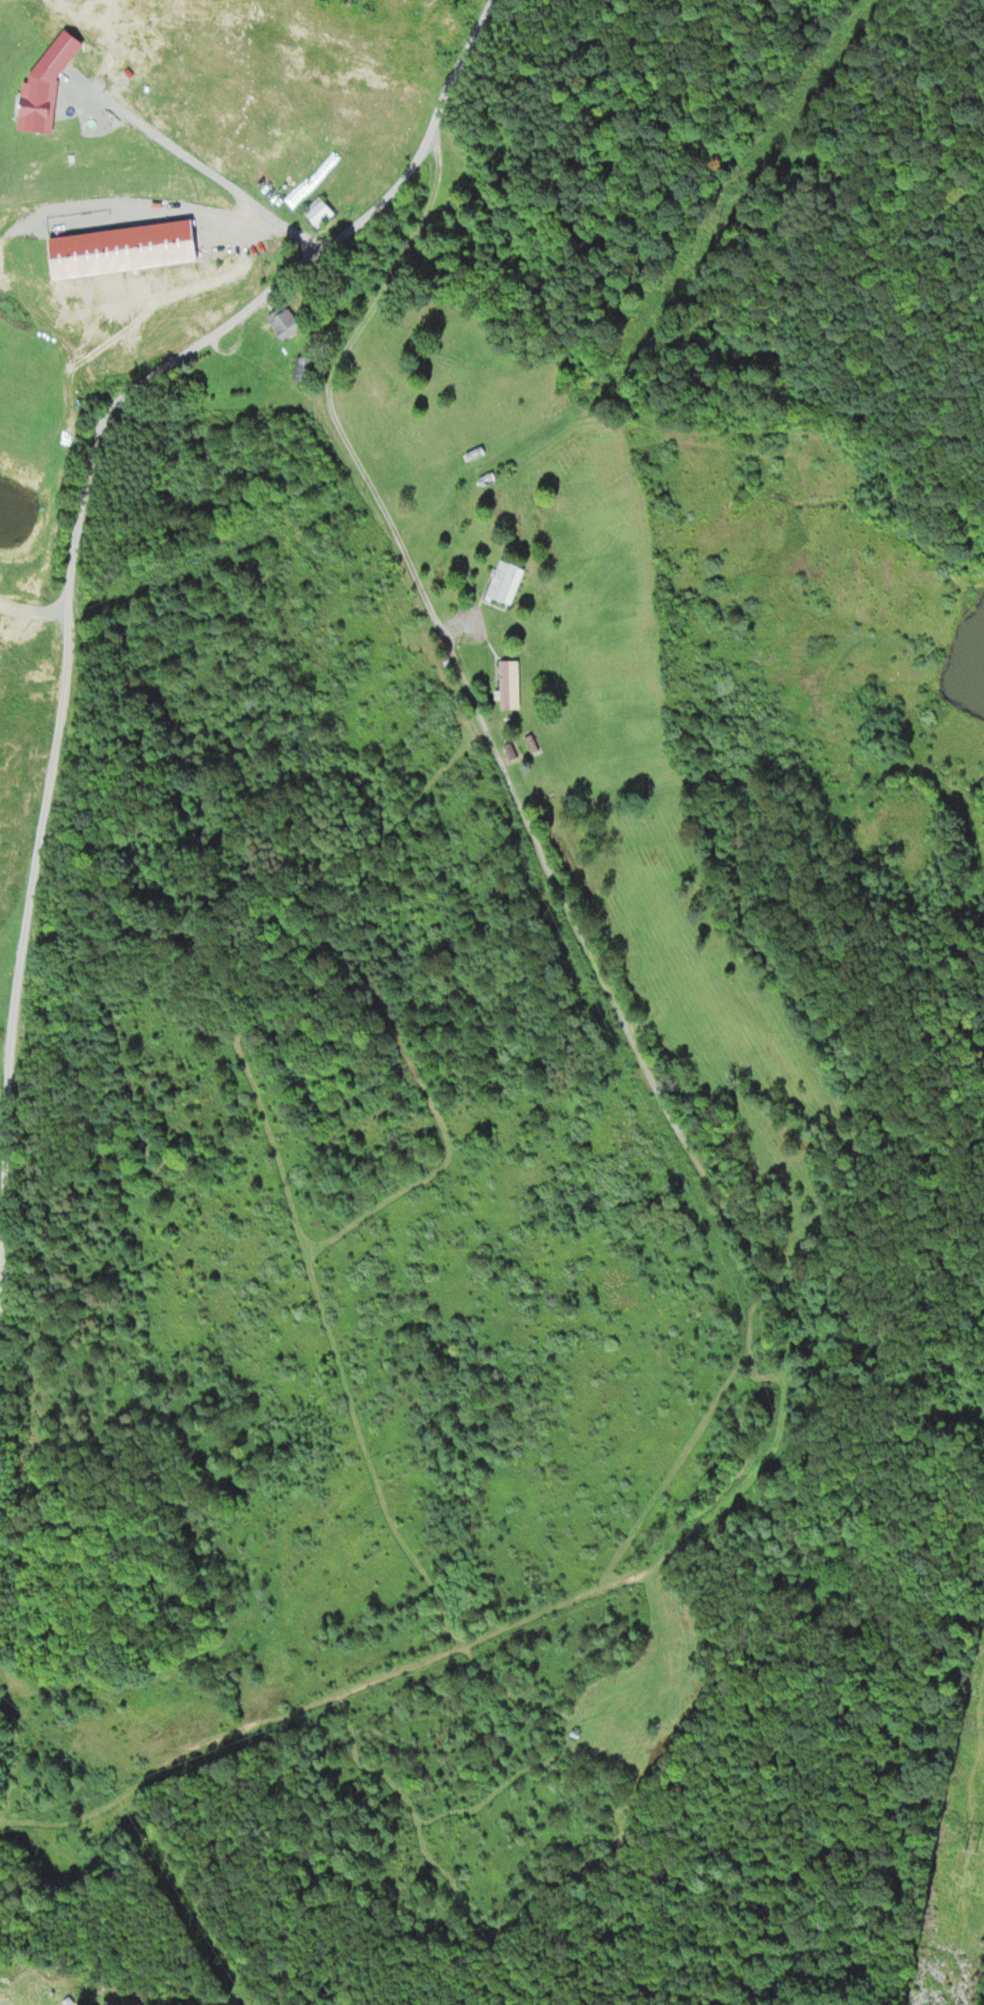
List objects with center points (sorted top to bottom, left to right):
building: (314, 212)
road: (333, 238)
building: (280, 322)
building: (501, 582)
building: (505, 684)
building: (510, 751)
road: (43, 796)
power tower: (966, 1843)

